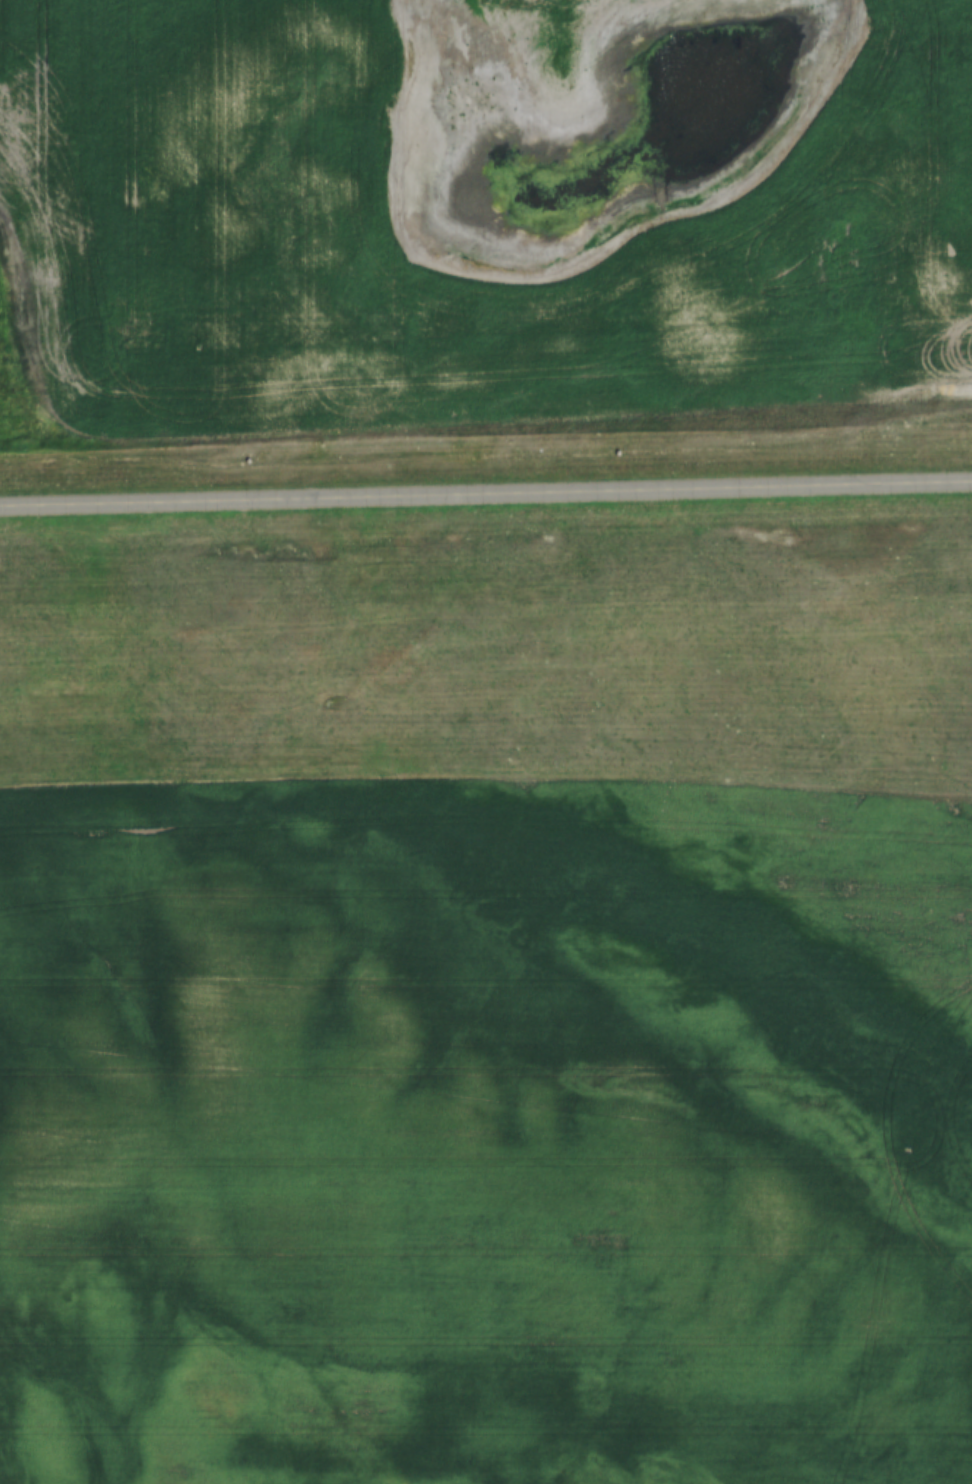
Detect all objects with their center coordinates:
road: (486, 494)

